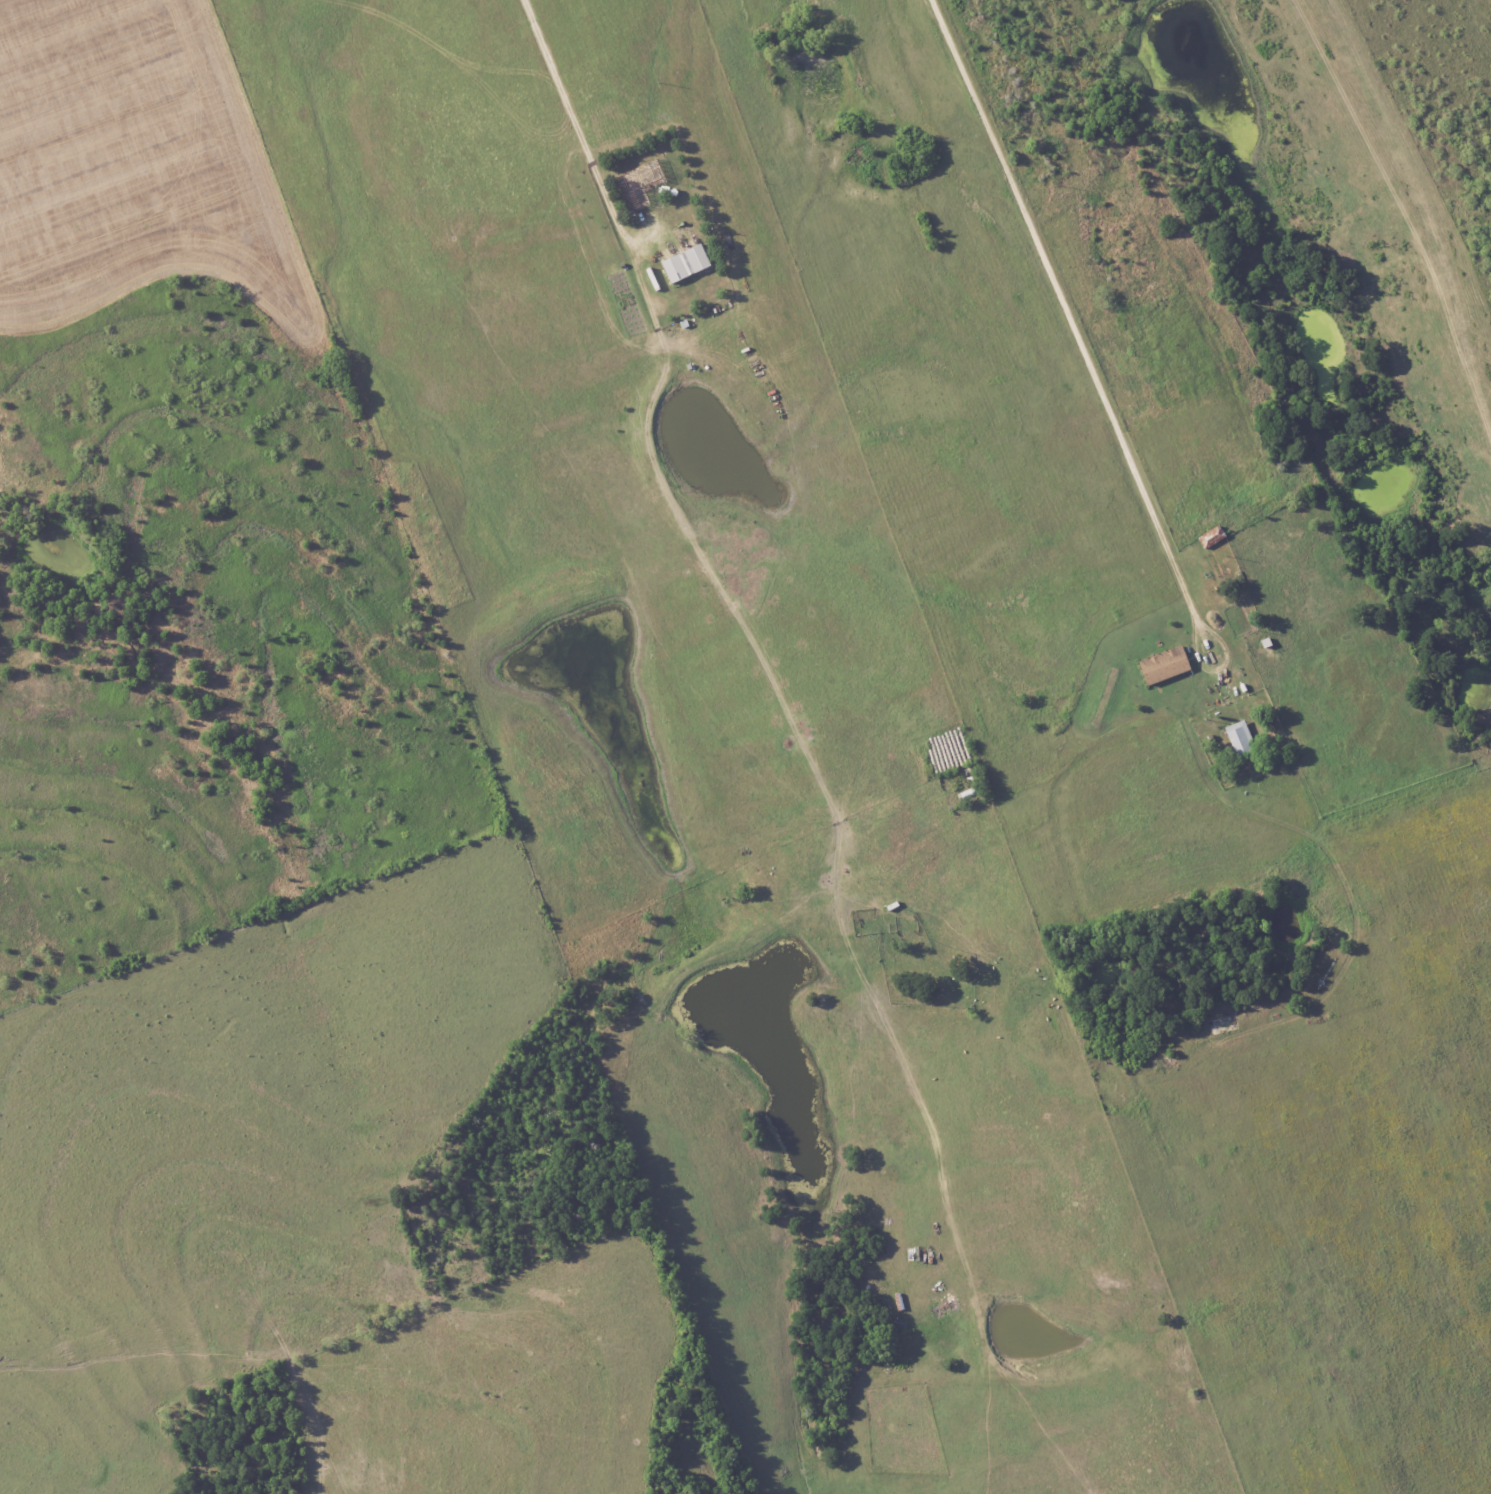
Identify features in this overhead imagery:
road: (570, 127)
road: (1403, 214)
building: (683, 263)
road: (1079, 334)
building: (1162, 666)
building: (1238, 739)

